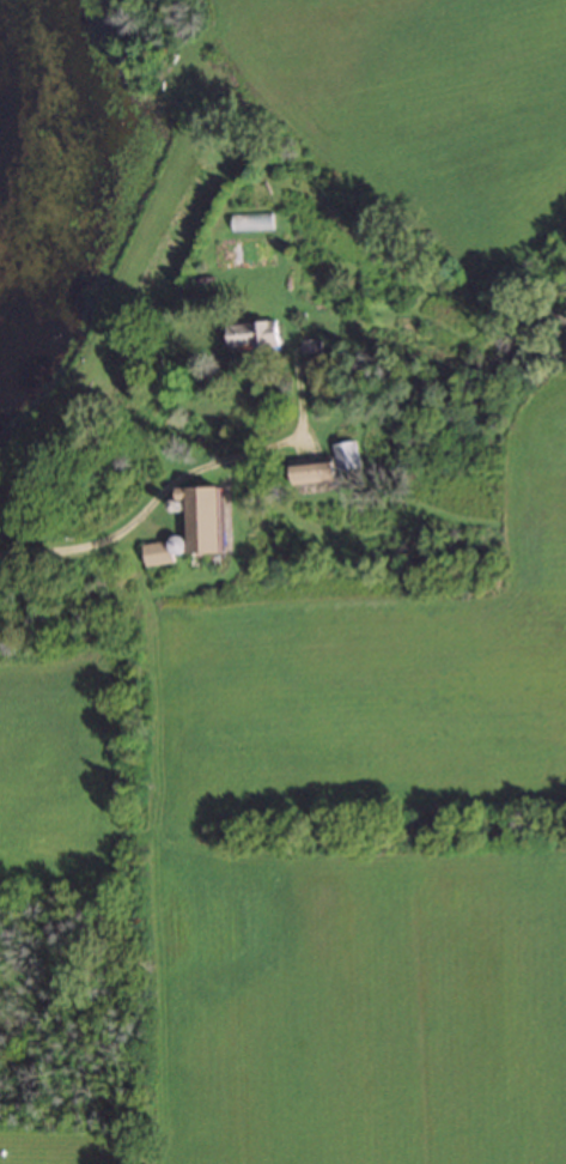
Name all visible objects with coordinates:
building: (256, 337)
building: (310, 350)
building: (328, 467)
road: (151, 498)
building: (196, 531)

